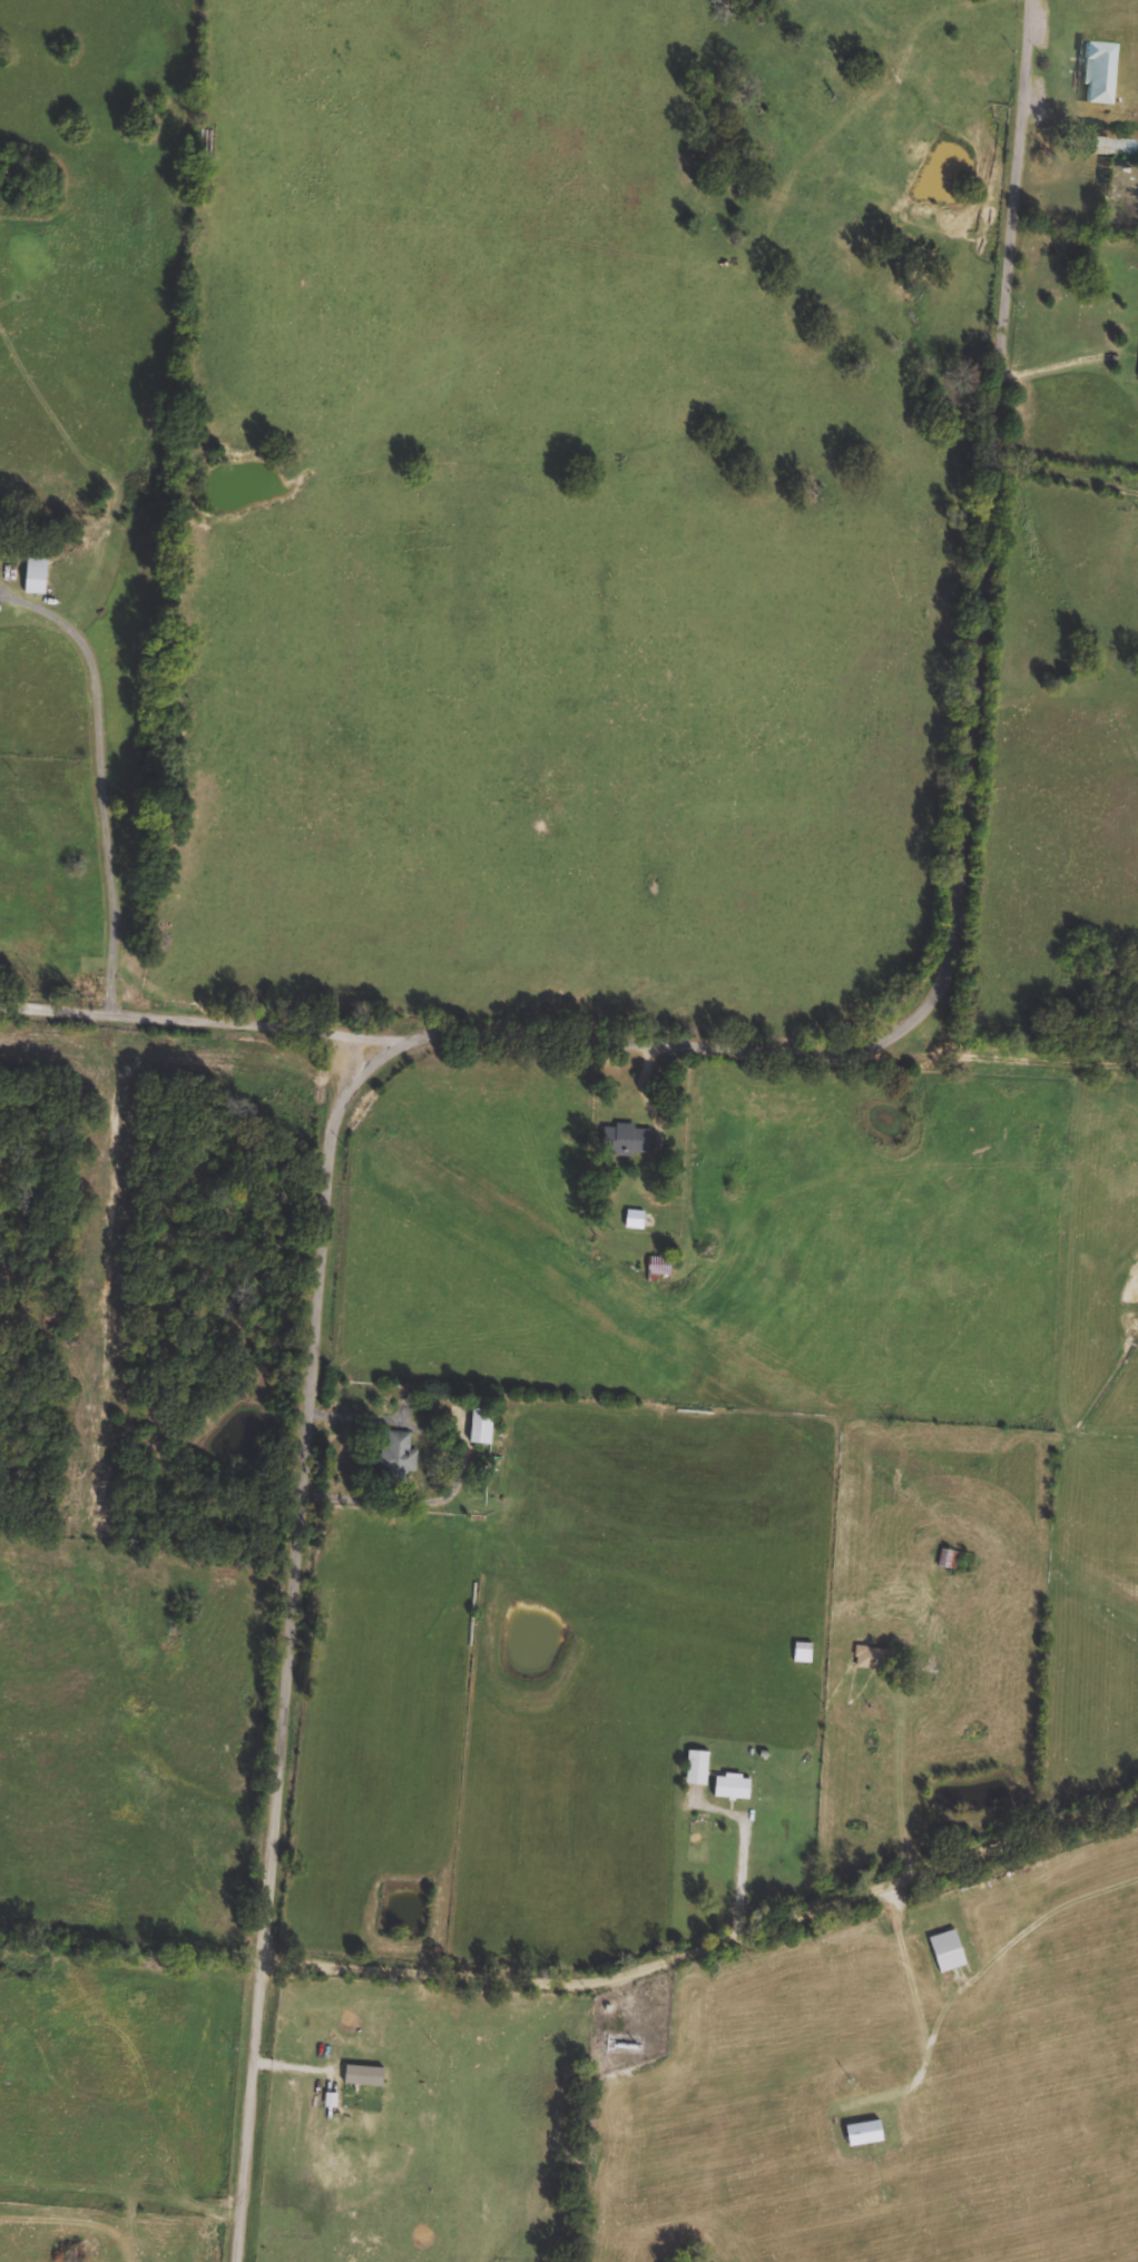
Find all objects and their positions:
building: (1096, 72)
building: (1110, 147)
road: (1069, 361)
building: (37, 577)
road: (107, 783)
road: (959, 814)
road: (174, 1015)
road: (377, 1103)
building: (629, 1140)
building: (636, 1220)
building: (482, 1427)
building: (399, 1457)
building: (950, 1560)
building: (804, 1653)
building: (872, 1659)
road: (291, 1662)
building: (698, 1769)
building: (734, 1788)
road: (747, 1852)
building: (949, 1953)
road: (709, 1958)
building: (364, 2077)
building: (332, 2102)
building: (865, 2135)

